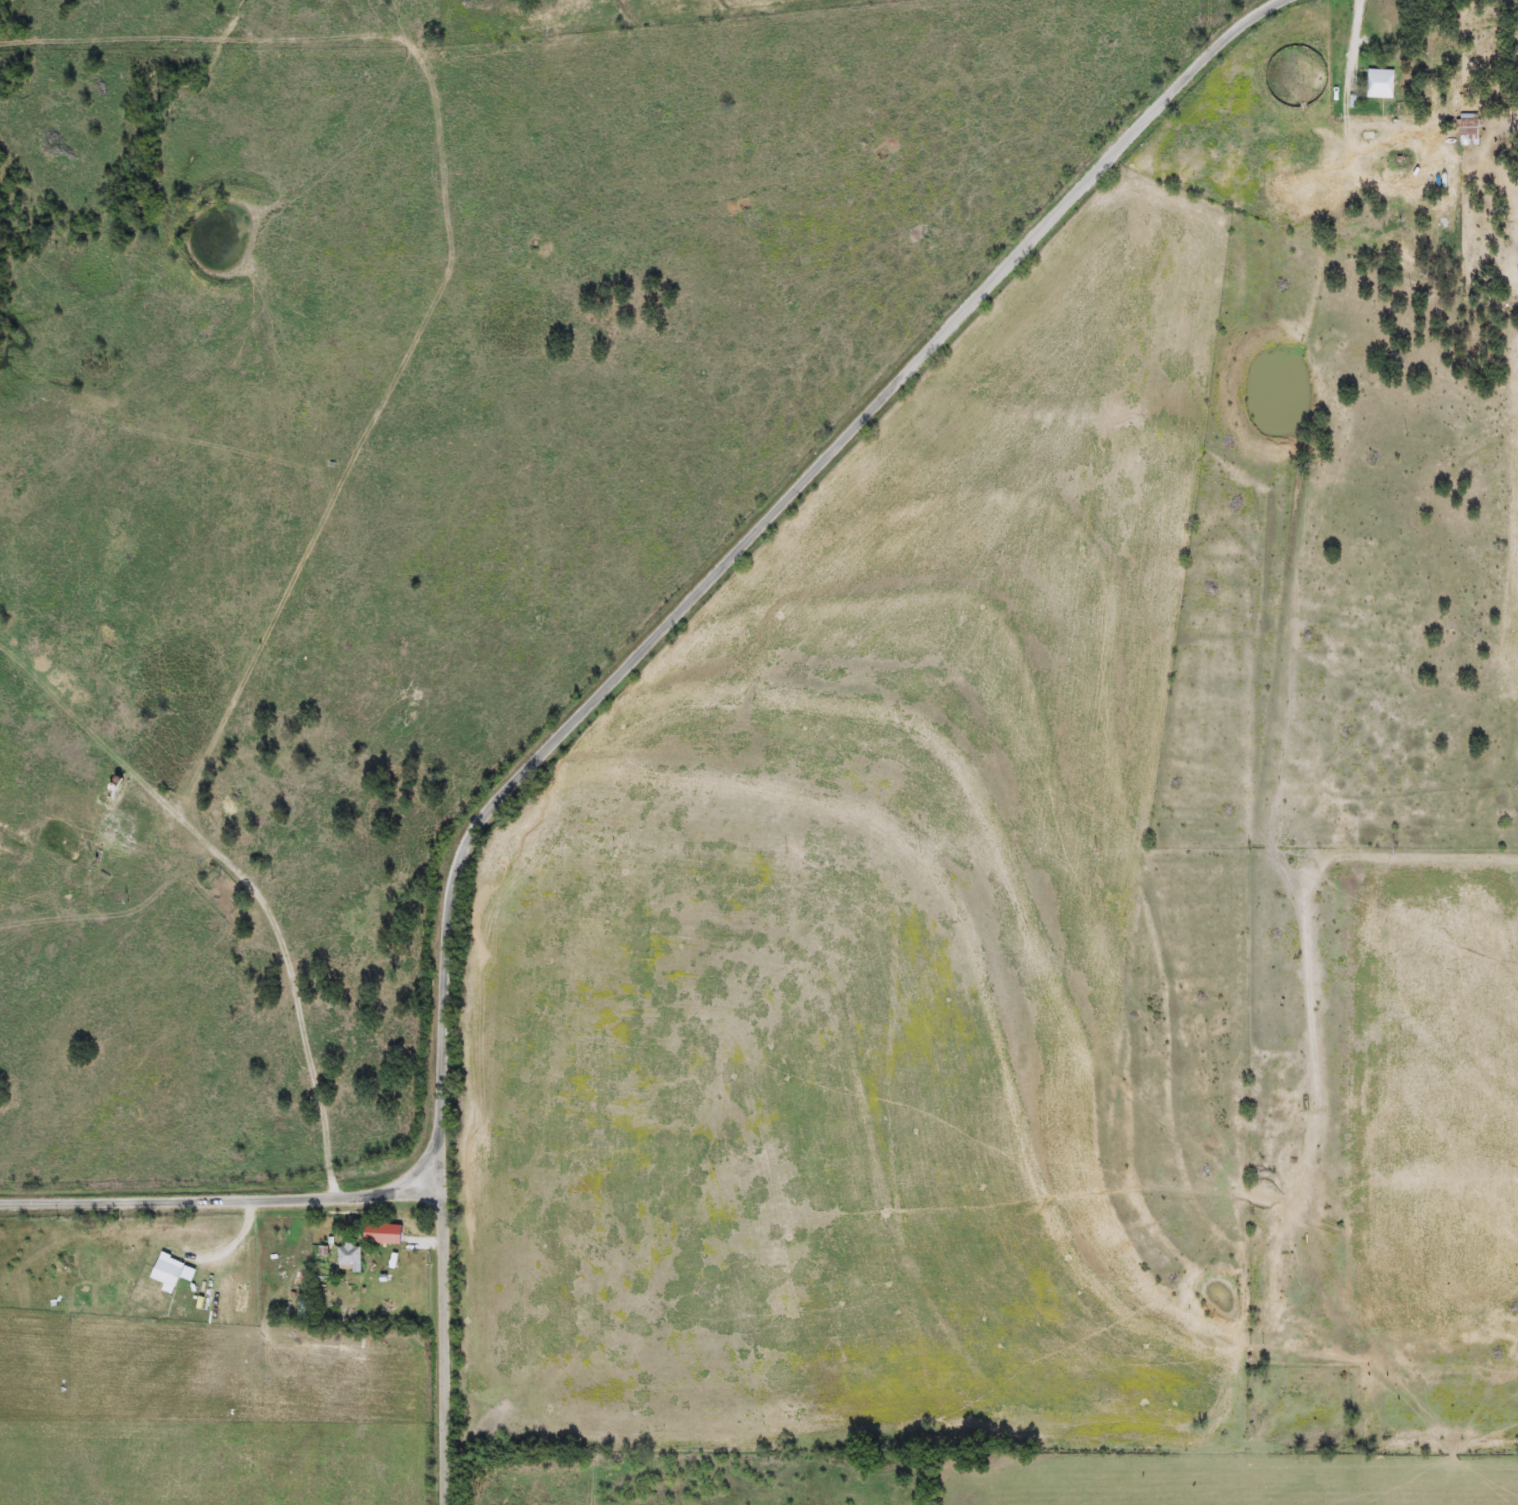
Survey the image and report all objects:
building: (1376, 84)
building: (1469, 130)
road: (638, 652)
road: (288, 964)
road: (219, 1198)
building: (351, 1258)
building: (169, 1275)

